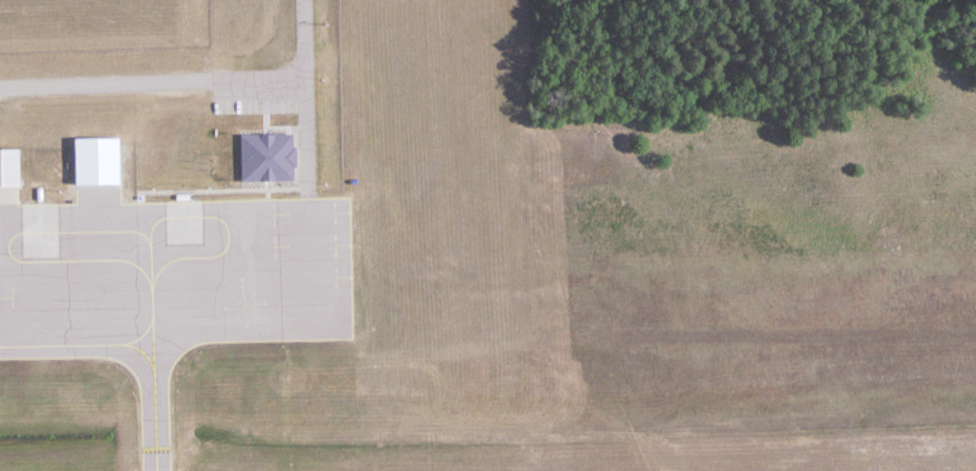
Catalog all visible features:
road: (191, 78)
road: (309, 135)
building: (265, 155)
building: (94, 159)
building: (8, 165)
airport: (398, 263)
airport taxiway: (131, 348)

